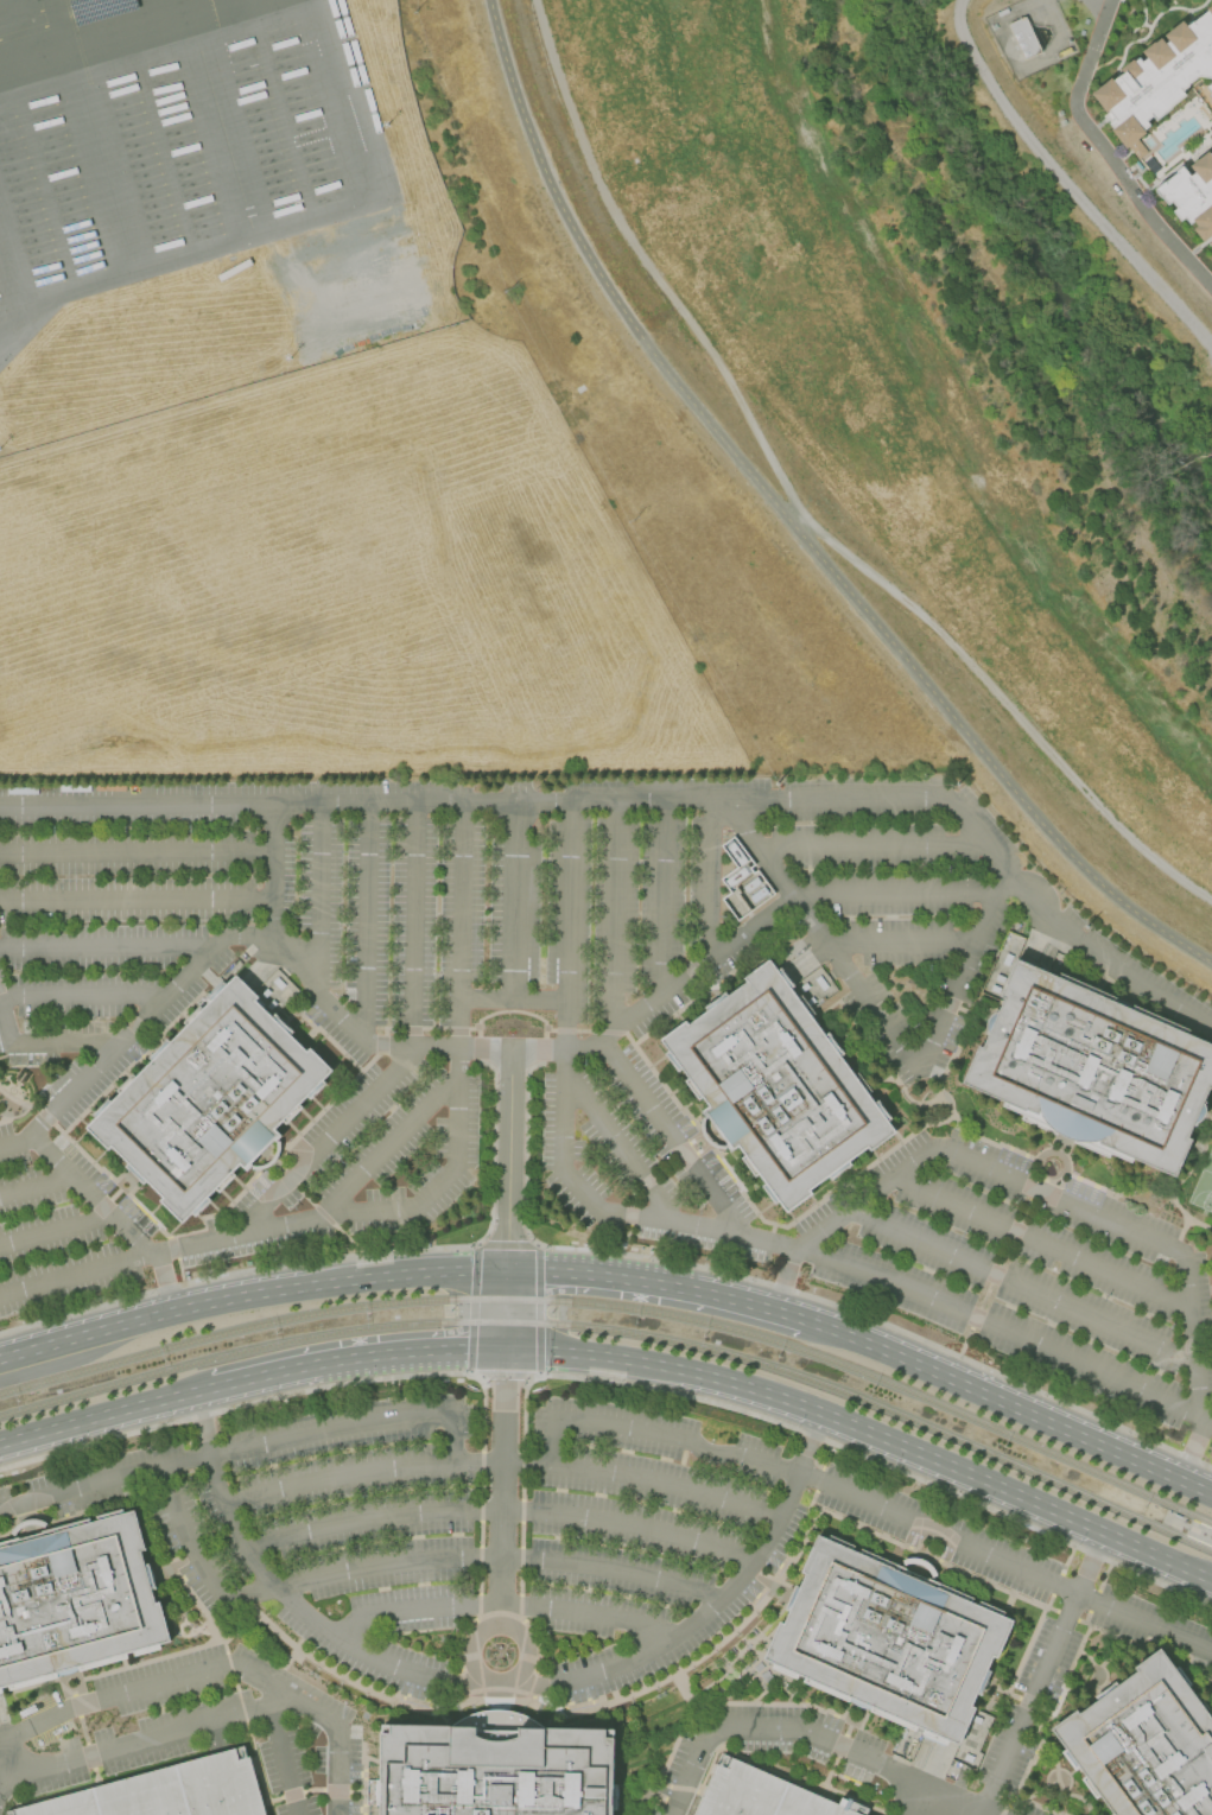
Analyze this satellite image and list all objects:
road: (1174, 7)
building: (99, 9)
road: (233, 9)
road: (1142, 11)
road: (1188, 15)
building: (1022, 36)
road: (1137, 39)
road: (151, 44)
road: (1122, 55)
building: (1156, 77)
building: (1211, 93)
road: (1193, 116)
road: (1207, 122)
road: (1097, 123)
road: (224, 132)
building: (1136, 148)
road: (1106, 153)
road: (1197, 153)
road: (102, 169)
road: (1156, 180)
road: (1065, 183)
building: (1191, 193)
road: (288, 222)
building: (1210, 243)
road: (1197, 247)
river: (1027, 252)
road: (1, 302)
road: (794, 508)
road: (797, 519)
road: (470, 804)
road: (871, 848)
road: (137, 853)
road: (273, 871)
road: (1009, 871)
road: (707, 882)
building: (738, 883)
road: (912, 893)
road: (660, 900)
road: (137, 901)
road: (321, 902)
road: (512, 902)
road: (611, 918)
road: (367, 922)
road: (414, 926)
road: (462, 926)
road: (565, 927)
road: (818, 933)
road: (900, 945)
road: (108, 950)
road: (703, 964)
road: (304, 978)
road: (958, 979)
road: (1142, 990)
road: (83, 998)
road: (512, 1002)
road: (5, 1026)
parking lot: (567, 1030)
road: (129, 1035)
road: (607, 1043)
road: (66, 1045)
road: (488, 1049)
road: (915, 1066)
building: (1093, 1067)
building: (776, 1086)
building: (209, 1099)
road: (458, 1108)
road: (559, 1113)
road: (328, 1143)
road: (616, 1147)
road: (673, 1147)
road: (387, 1150)
road: (1059, 1157)
road: (77, 1182)
road: (36, 1187)
park: (1203, 1188)
road: (577, 1193)
road: (1056, 1200)
road: (837, 1218)
road: (310, 1223)
road: (55, 1231)
road: (1039, 1244)
road: (338, 1257)
traffic signals: (537, 1273)
road: (995, 1276)
road: (74, 1278)
road: (640, 1282)
road: (786, 1288)
road: (1019, 1288)
road: (912, 1293)
road: (249, 1299)
railway: (620, 1308)
traffic signals: (503, 1312)
road: (788, 1319)
railway: (621, 1332)
road: (502, 1337)
traffic signals: (469, 1351)
road: (373, 1357)
road: (1193, 1370)
road: (221, 1388)
road: (1009, 1407)
road: (97, 1419)
road: (353, 1424)
road: (867, 1433)
road: (499, 1464)
road: (103, 1483)
road: (868, 1503)
road: (499, 1512)
railway: (1188, 1530)
road: (196, 1559)
road: (497, 1560)
parking lot: (567, 1565)
road: (779, 1578)
road: (279, 1594)
building: (76, 1601)
road: (715, 1604)
road: (497, 1605)
road: (1065, 1617)
road: (214, 1624)
road: (220, 1633)
road: (526, 1638)
building: (887, 1639)
road: (1155, 1643)
road: (1024, 1652)
road: (1102, 1663)
road: (1042, 1673)
road: (172, 1681)
road: (1086, 1684)
road: (1100, 1684)
road: (367, 1689)
road: (1017, 1701)
road: (241, 1705)
road: (754, 1706)
road: (1039, 1725)
road: (812, 1735)
road: (216, 1737)
road: (145, 1741)
parking lot: (184, 1743)
building: (1144, 1744)
road: (5, 1753)
road: (664, 1759)
road: (281, 1760)
building: (495, 1768)
road: (94, 1771)
road: (335, 1771)
road: (792, 1778)
road: (1022, 1778)
building: (169, 1791)
parking garage: (169, 1791)
building: (759, 1795)
parking garage: (759, 1795)
road: (856, 1798)
road: (1040, 1804)
road: (972, 1810)

